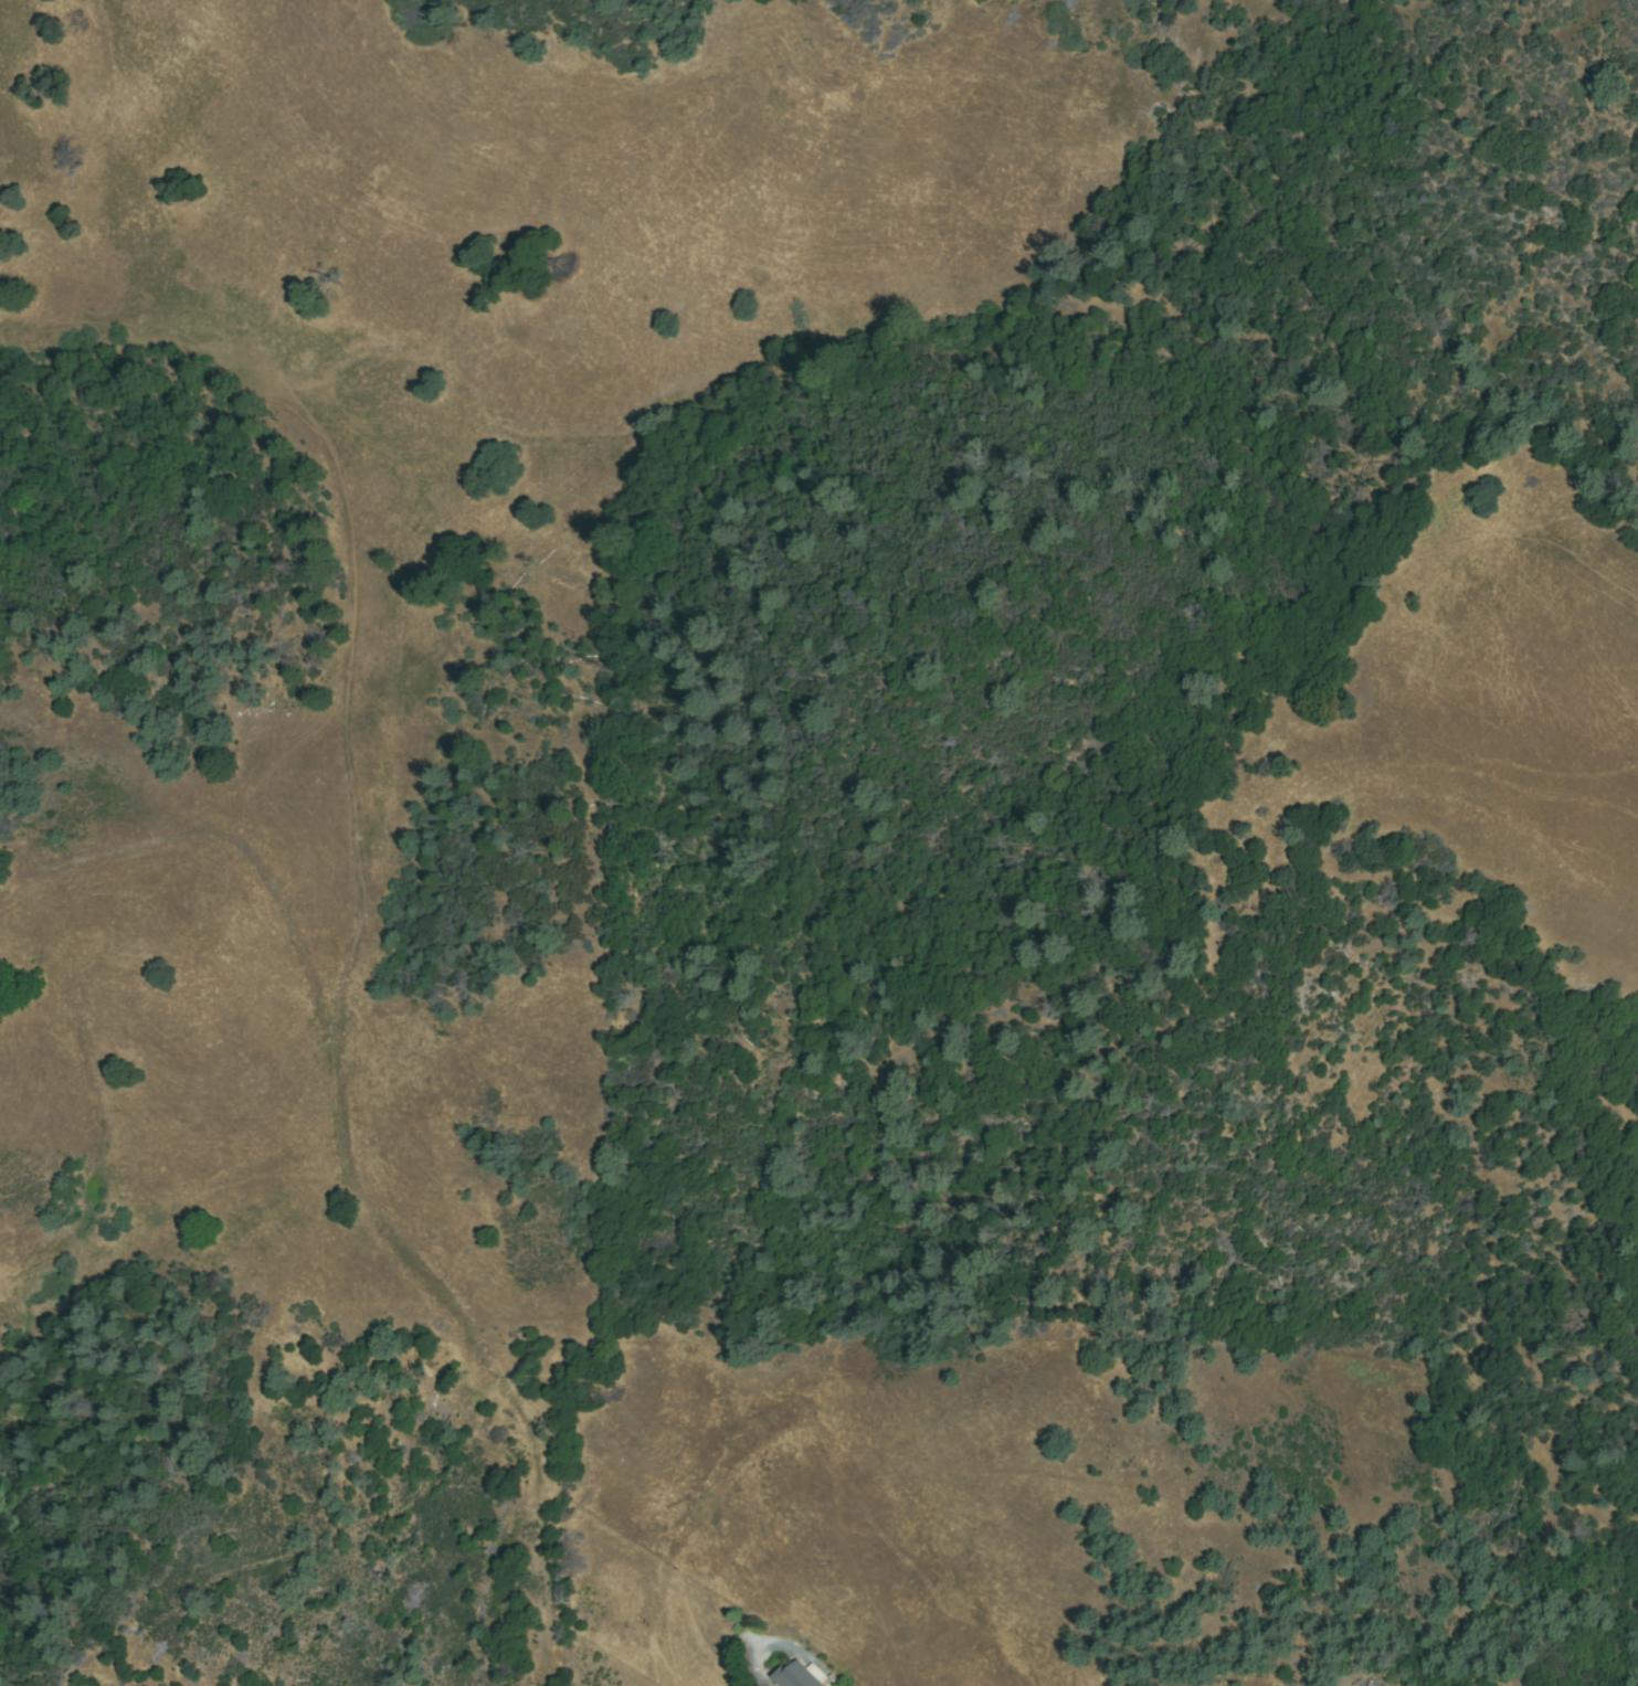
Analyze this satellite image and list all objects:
building: (797, 1675)

